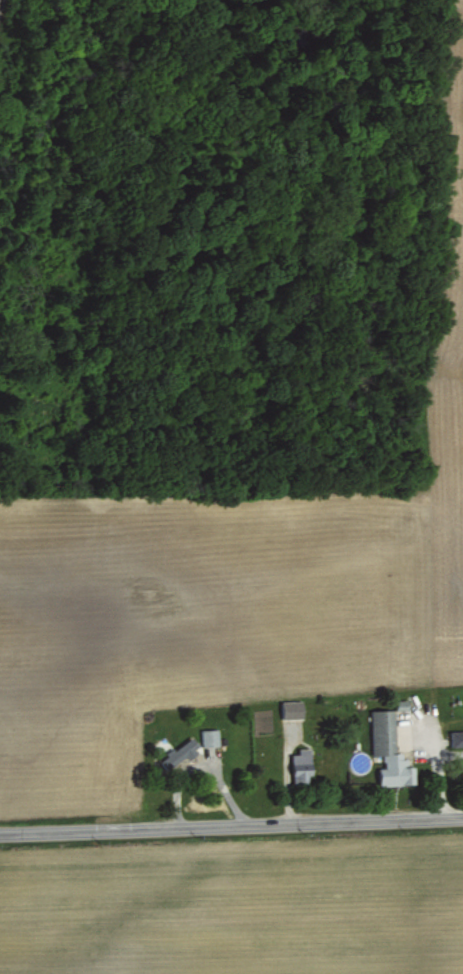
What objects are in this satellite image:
building: (293, 708)
building: (210, 736)
building: (457, 737)
building: (389, 749)
building: (302, 765)
road: (231, 819)

